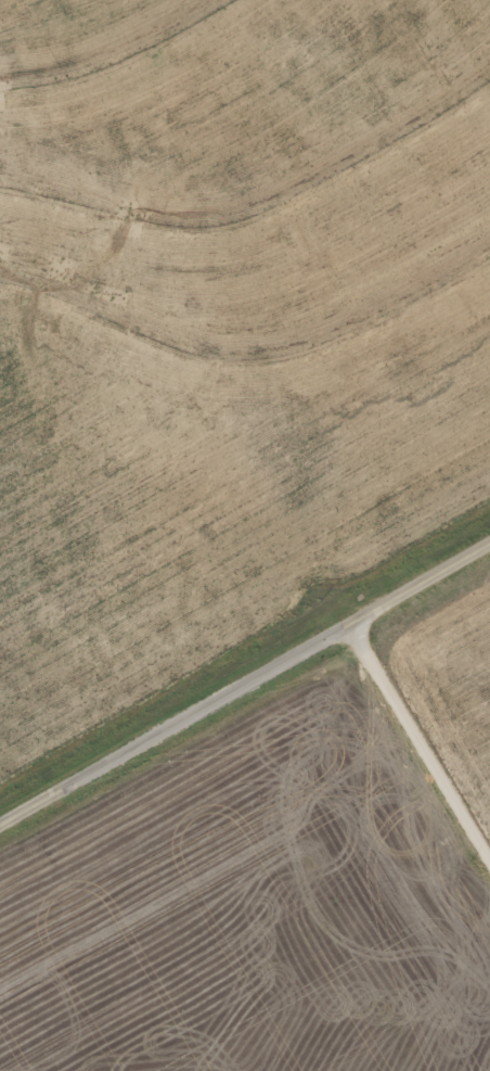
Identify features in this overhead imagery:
road: (245, 686)
road: (425, 772)

